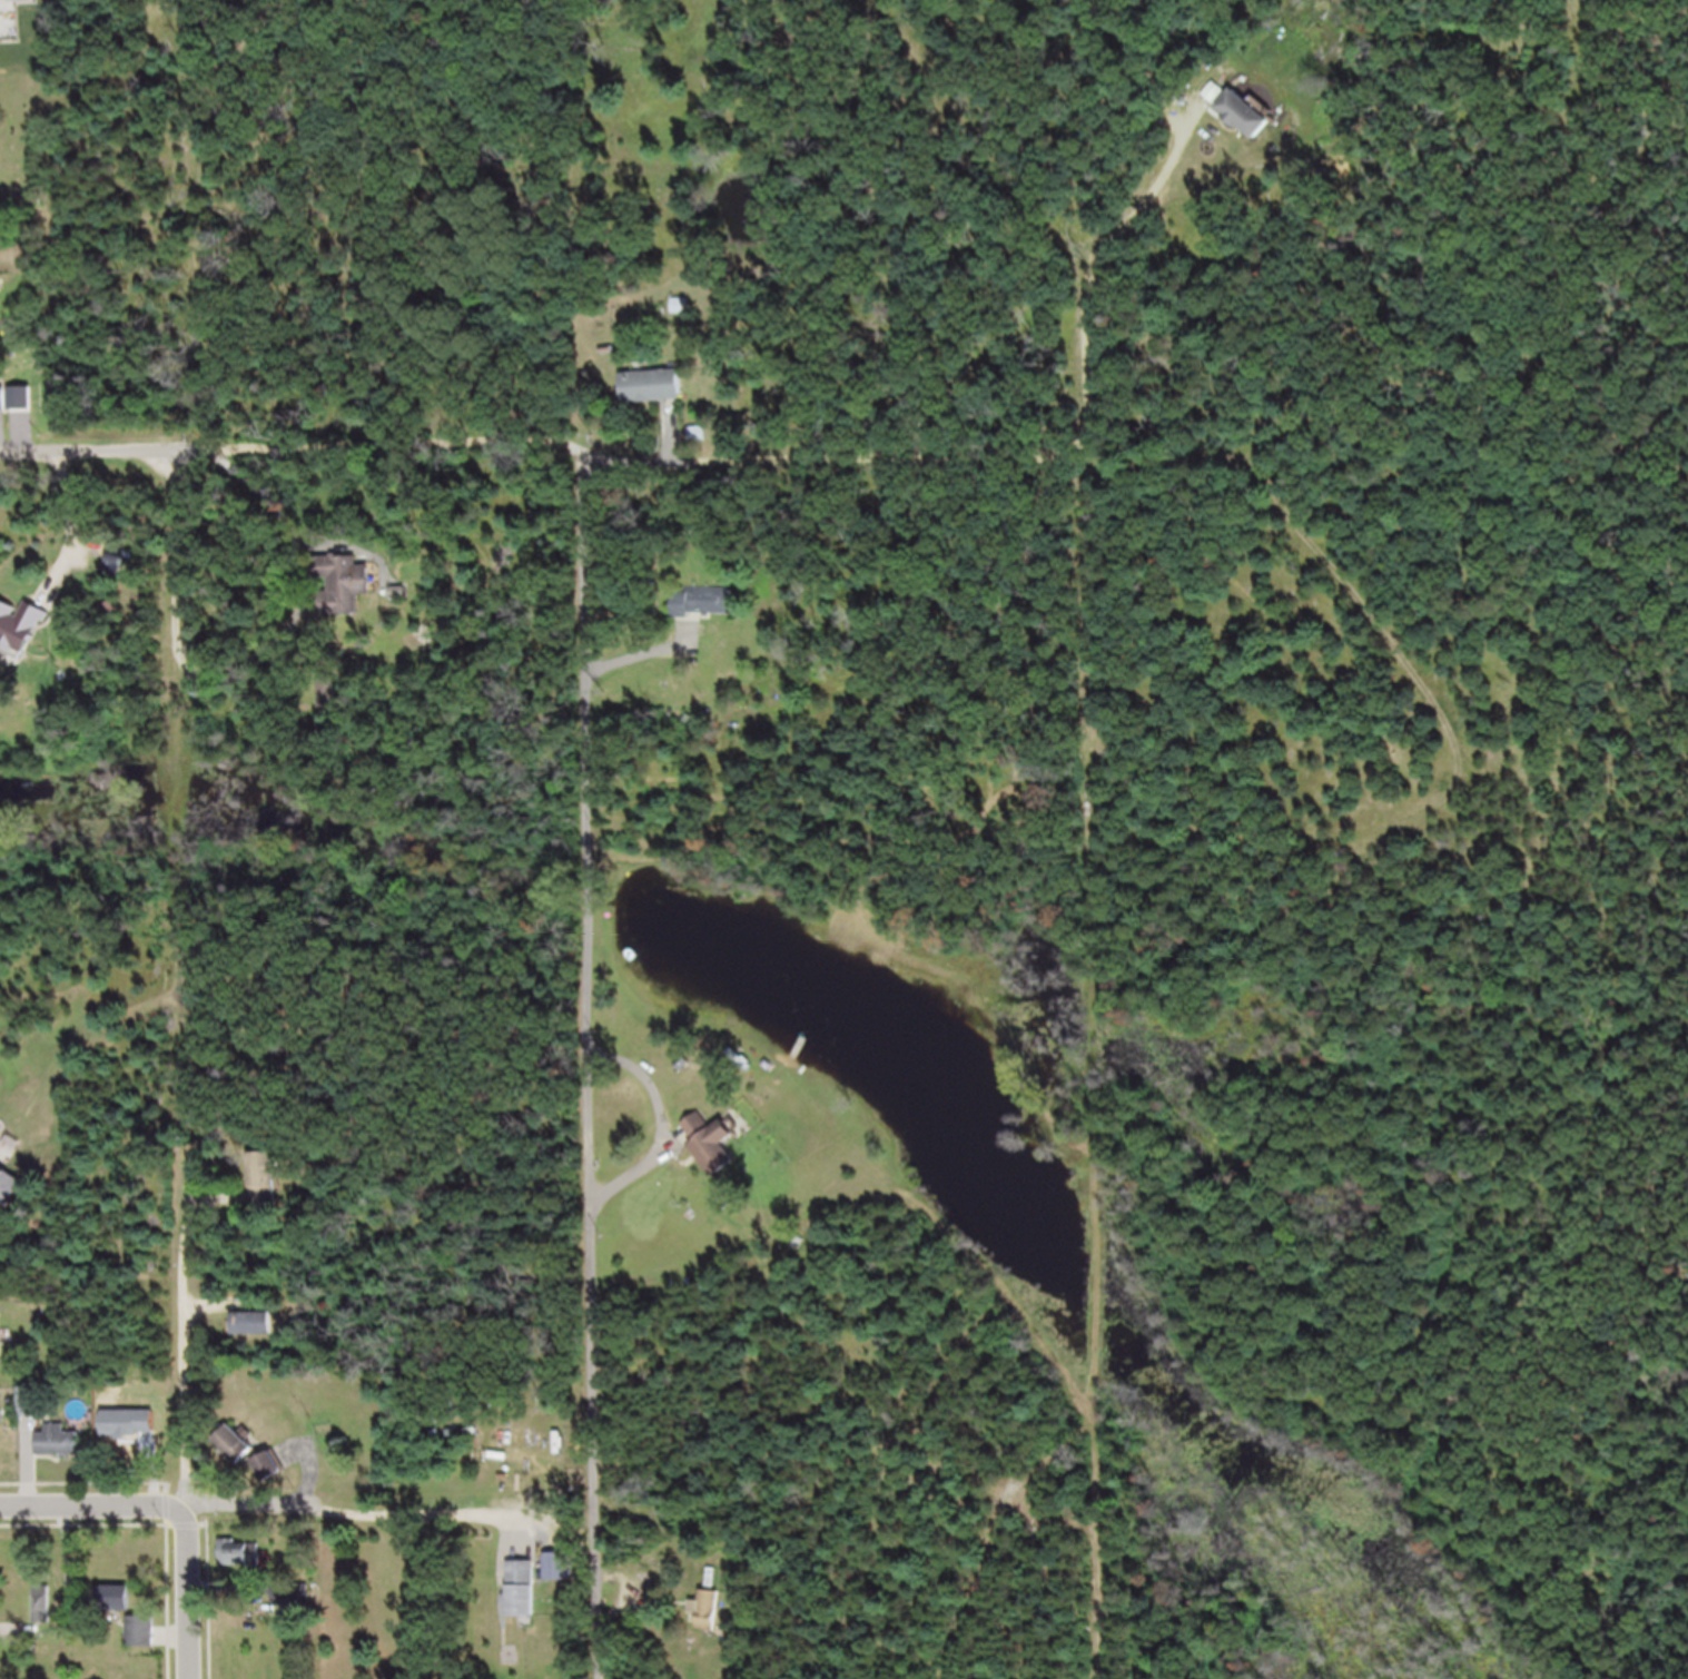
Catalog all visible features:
building: (2, 39)
building: (1252, 124)
building: (657, 397)
building: (2, 412)
road: (472, 456)
road: (171, 496)
road: (68, 527)
building: (343, 596)
road: (307, 608)
building: (705, 612)
building: (24, 635)
road: (596, 1067)
road: (176, 1107)
building: (701, 1135)
building: (725, 1156)
building: (268, 1189)
building: (14, 1193)
building: (249, 1333)
building: (3, 1349)
building: (33, 1411)
building: (0, 1448)
building: (63, 1451)
building: (144, 1454)
building: (240, 1455)
building: (274, 1478)
road: (309, 1484)
road: (361, 1515)
road: (90, 1519)
building: (246, 1562)
building: (561, 1577)
building: (527, 1599)
road: (443, 1600)
building: (119, 1608)
building: (45, 1614)
building: (712, 1620)
building: (148, 1640)

